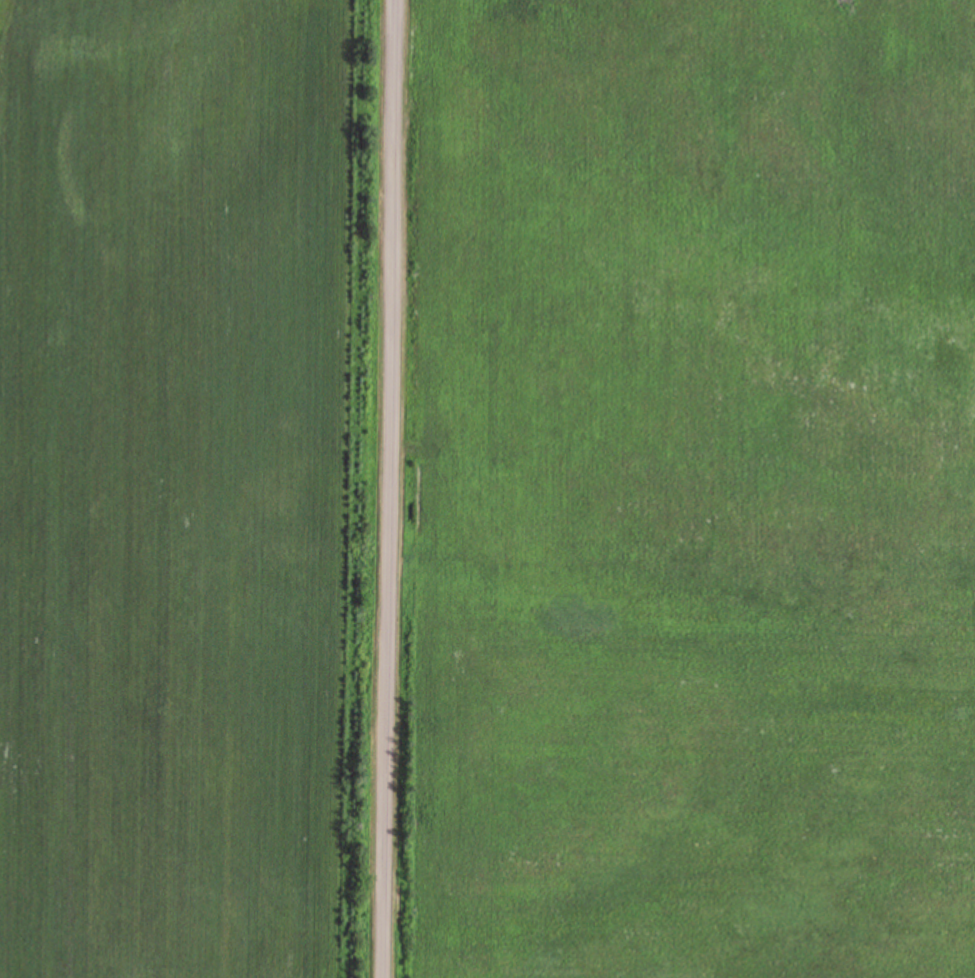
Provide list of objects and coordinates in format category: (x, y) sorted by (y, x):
road: (379, 489)

